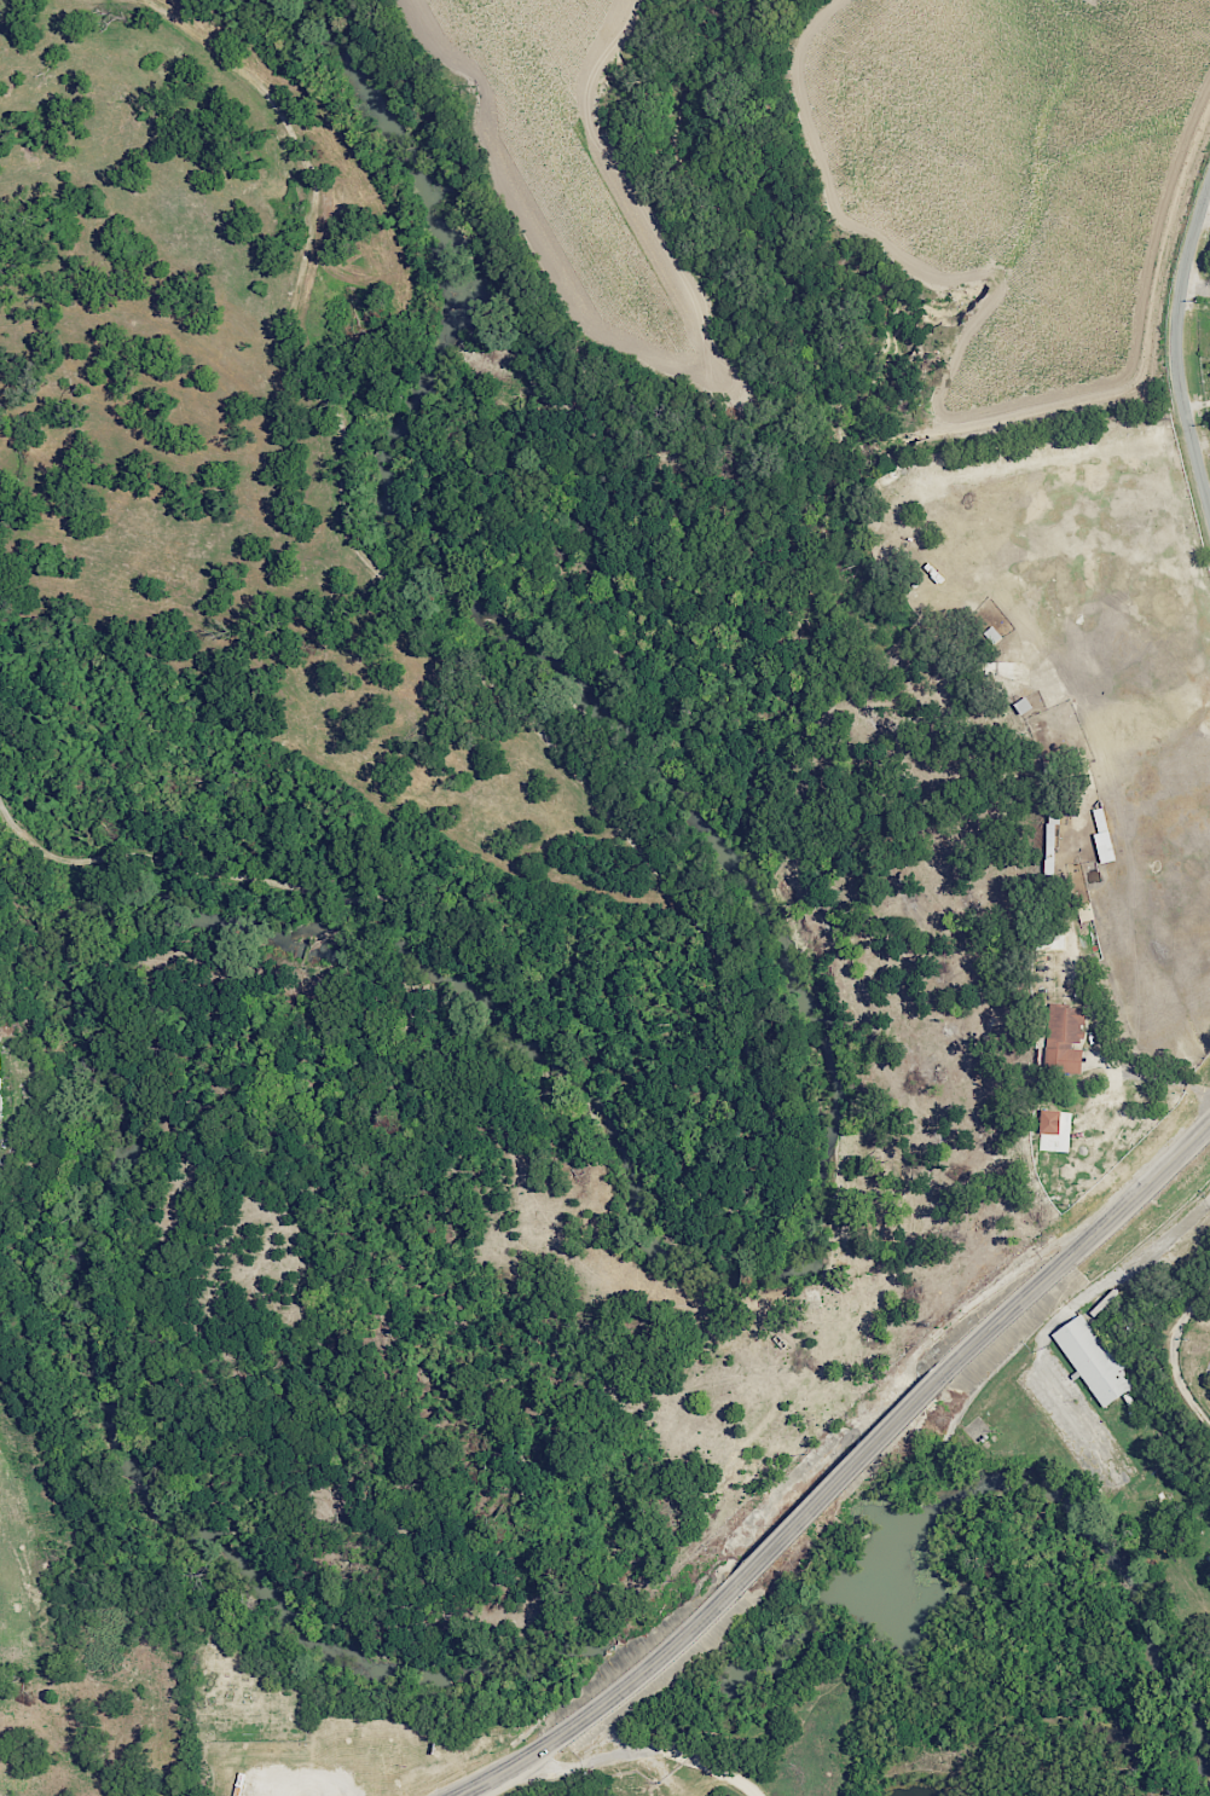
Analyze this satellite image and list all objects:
crop: (573, 162)
crop: (1011, 184)
road: (1195, 285)
road: (1175, 347)
building: (1106, 834)
building: (1069, 1038)
building: (2, 1093)
building: (1054, 1122)
river: (627, 1154)
road: (1078, 1251)
road: (1056, 1321)
road: (1174, 1355)
building: (1095, 1361)
road: (847, 1475)
river: (994, 1593)
road: (685, 1639)
river: (665, 1656)
road: (543, 1749)
road: (647, 1749)

